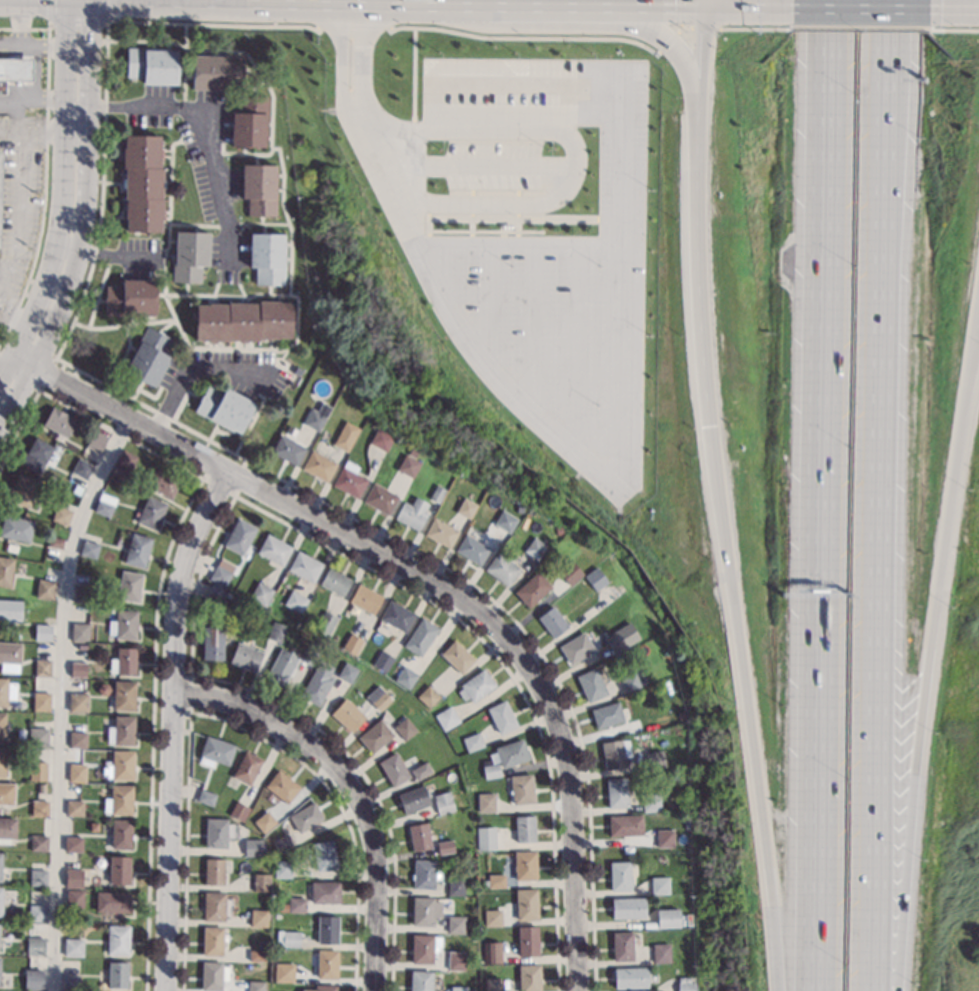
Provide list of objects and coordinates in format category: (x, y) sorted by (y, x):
road: (246, 2)
road: (352, 2)
road: (700, 4)
road: (418, 5)
road: (522, 6)
road: (629, 8)
road: (740, 8)
traffic signals: (700, 9)
road: (857, 9)
road: (957, 9)
road: (20, 23)
traffic signals: (88, 25)
road: (664, 38)
road: (32, 46)
building: (152, 65)
road: (353, 65)
building: (14, 70)
building: (217, 71)
road: (35, 85)
road: (76, 104)
road: (890, 104)
building: (250, 122)
road: (208, 123)
road: (76, 128)
road: (570, 142)
road: (381, 161)
building: (0, 171)
building: (143, 182)
building: (259, 188)
road: (85, 190)
road: (60, 195)
road: (411, 223)
road: (617, 239)
road: (66, 243)
road: (520, 249)
road: (114, 255)
building: (191, 255)
building: (268, 257)
parking lot: (554, 266)
building: (132, 297)
road: (485, 303)
building: (243, 321)
road: (531, 327)
road: (573, 345)
building: (149, 356)
road: (4, 358)
road: (18, 365)
road: (191, 369)
road: (13, 398)
building: (224, 408)
building: (317, 416)
road: (127, 418)
building: (59, 421)
building: (325, 435)
building: (346, 436)
building: (381, 440)
building: (97, 441)
building: (287, 449)
building: (36, 454)
building: (125, 460)
building: (318, 465)
building: (408, 465)
building: (82, 468)
building: (350, 479)
building: (163, 481)
road: (218, 485)
building: (23, 490)
building: (437, 494)
road: (815, 495)
building: (380, 498)
road: (720, 500)
building: (103, 508)
building: (467, 508)
building: (152, 512)
building: (62, 515)
building: (410, 515)
building: (506, 520)
building: (16, 528)
building: (559, 530)
building: (441, 532)
building: (240, 536)
building: (56, 541)
building: (535, 548)
building: (89, 549)
building: (138, 549)
building: (274, 549)
building: (472, 549)
building: (601, 550)
building: (305, 566)
building: (502, 568)
building: (6, 570)
road: (402, 571)
building: (222, 572)
building: (597, 578)
building: (567, 579)
building: (335, 581)
road: (196, 584)
building: (130, 585)
building: (45, 589)
building: (532, 589)
building: (81, 593)
building: (216, 593)
building: (261, 593)
building: (229, 594)
building: (365, 598)
road: (883, 600)
building: (110, 601)
building: (296, 601)
building: (247, 608)
building: (10, 610)
building: (396, 616)
building: (553, 621)
building: (326, 623)
building: (123, 624)
building: (79, 631)
building: (276, 631)
building: (42, 632)
building: (420, 637)
building: (617, 642)
building: (213, 643)
building: (352, 643)
building: (82, 646)
road: (932, 646)
building: (576, 647)
building: (10, 652)
building: (309, 656)
building: (457, 656)
building: (246, 657)
building: (383, 660)
building: (123, 661)
building: (281, 666)
building: (42, 667)
building: (78, 668)
road: (506, 668)
building: (347, 672)
building: (406, 677)
building: (630, 682)
building: (317, 683)
building: (591, 684)
building: (476, 686)
building: (103, 688)
building: (5, 691)
road: (190, 694)
building: (124, 695)
building: (429, 696)
road: (58, 698)
building: (378, 698)
building: (41, 701)
building: (77, 702)
building: (347, 715)
building: (607, 715)
building: (681, 715)
building: (502, 716)
building: (447, 718)
building: (2, 726)
road: (171, 726)
building: (404, 727)
building: (121, 730)
building: (77, 735)
building: (375, 736)
building: (38, 737)
building: (473, 742)
building: (215, 752)
building: (512, 752)
building: (615, 753)
building: (494, 757)
building: (655, 759)
building: (2, 761)
building: (120, 765)
building: (247, 767)
building: (393, 769)
building: (421, 770)
building: (491, 770)
building: (37, 771)
building: (76, 772)
road: (366, 782)
road: (351, 785)
building: (282, 786)
building: (41, 787)
building: (522, 789)
building: (616, 792)
building: (6, 793)
building: (206, 797)
building: (413, 799)
building: (119, 800)
building: (686, 801)
building: (486, 802)
building: (651, 802)
building: (443, 803)
building: (74, 807)
building: (39, 808)
road: (340, 809)
building: (238, 810)
building: (305, 816)
building: (686, 817)
building: (264, 821)
building: (625, 825)
building: (94, 826)
building: (7, 829)
building: (524, 829)
building: (215, 833)
building: (121, 834)
building: (418, 836)
building: (664, 837)
building: (485, 838)
building: (495, 841)
building: (281, 842)
building: (39, 843)
building: (73, 844)
building: (253, 847)
building: (444, 847)
road: (573, 847)
road: (186, 848)
building: (324, 855)
building: (1, 865)
building: (525, 865)
building: (282, 868)
building: (118, 870)
building: (213, 871)
building: (425, 873)
building: (620, 875)
building: (38, 877)
building: (74, 877)
building: (496, 880)
building: (261, 882)
building: (484, 883)
building: (660, 885)
building: (455, 886)
building: (325, 892)
building: (74, 899)
building: (1, 900)
building: (678, 900)
building: (112, 902)
building: (296, 904)
building: (526, 904)
building: (214, 906)
building: (628, 907)
building: (424, 910)
building: (37, 912)
building: (257, 917)
building: (492, 917)
building: (667, 918)
building: (455, 923)
building: (327, 929)
building: (678, 936)
building: (290, 938)
building: (118, 939)
building: (213, 940)
building: (528, 941)
building: (35, 945)
building: (622, 946)
building: (73, 947)
building: (423, 947)
building: (491, 952)
building: (661, 953)
building: (257, 955)
building: (456, 960)
building: (326, 963)
building: (283, 972)
building: (114, 974)
building: (213, 975)
building: (529, 977)
building: (630, 977)
building: (33, 980)
building: (420, 980)
building: (0, 981)
building: (70, 983)
building: (492, 984)
building: (685, 984)
building: (256, 985)
building: (322, 988)
building: (458, 988)

